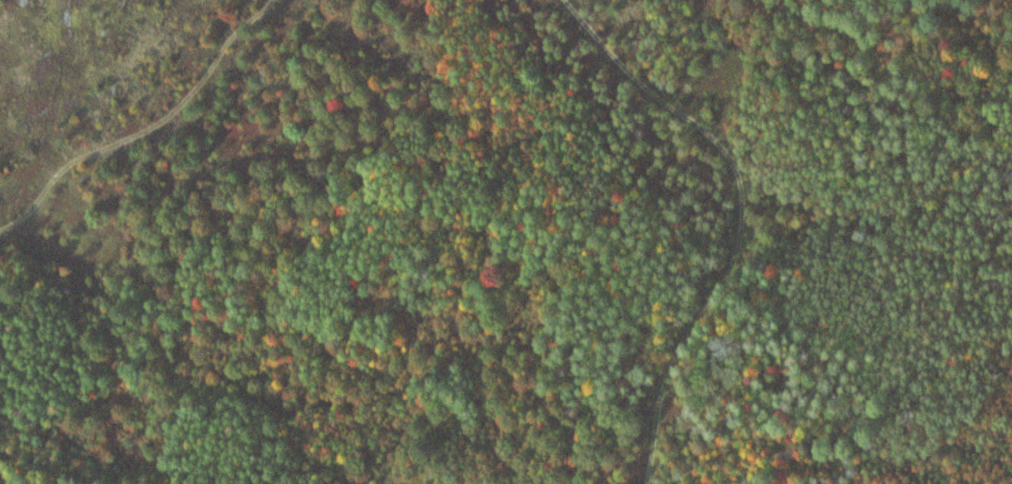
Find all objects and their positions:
road: (739, 212)

